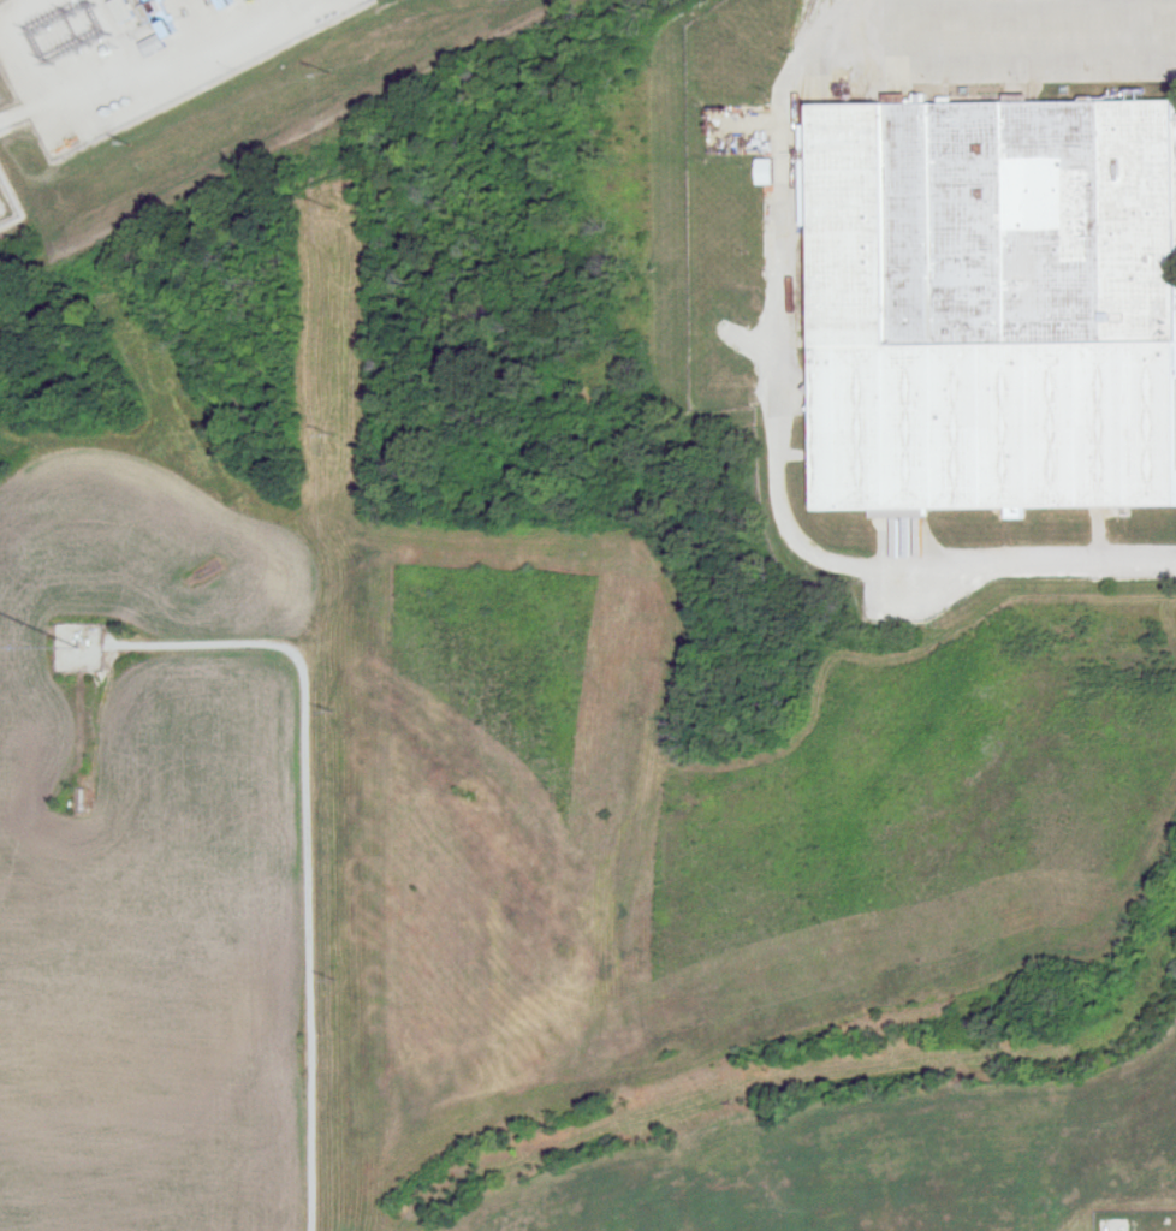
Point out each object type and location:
chimney: (158, 6)
railway: (796, 112)
building: (988, 308)
crop: (150, 858)
road: (310, 947)

